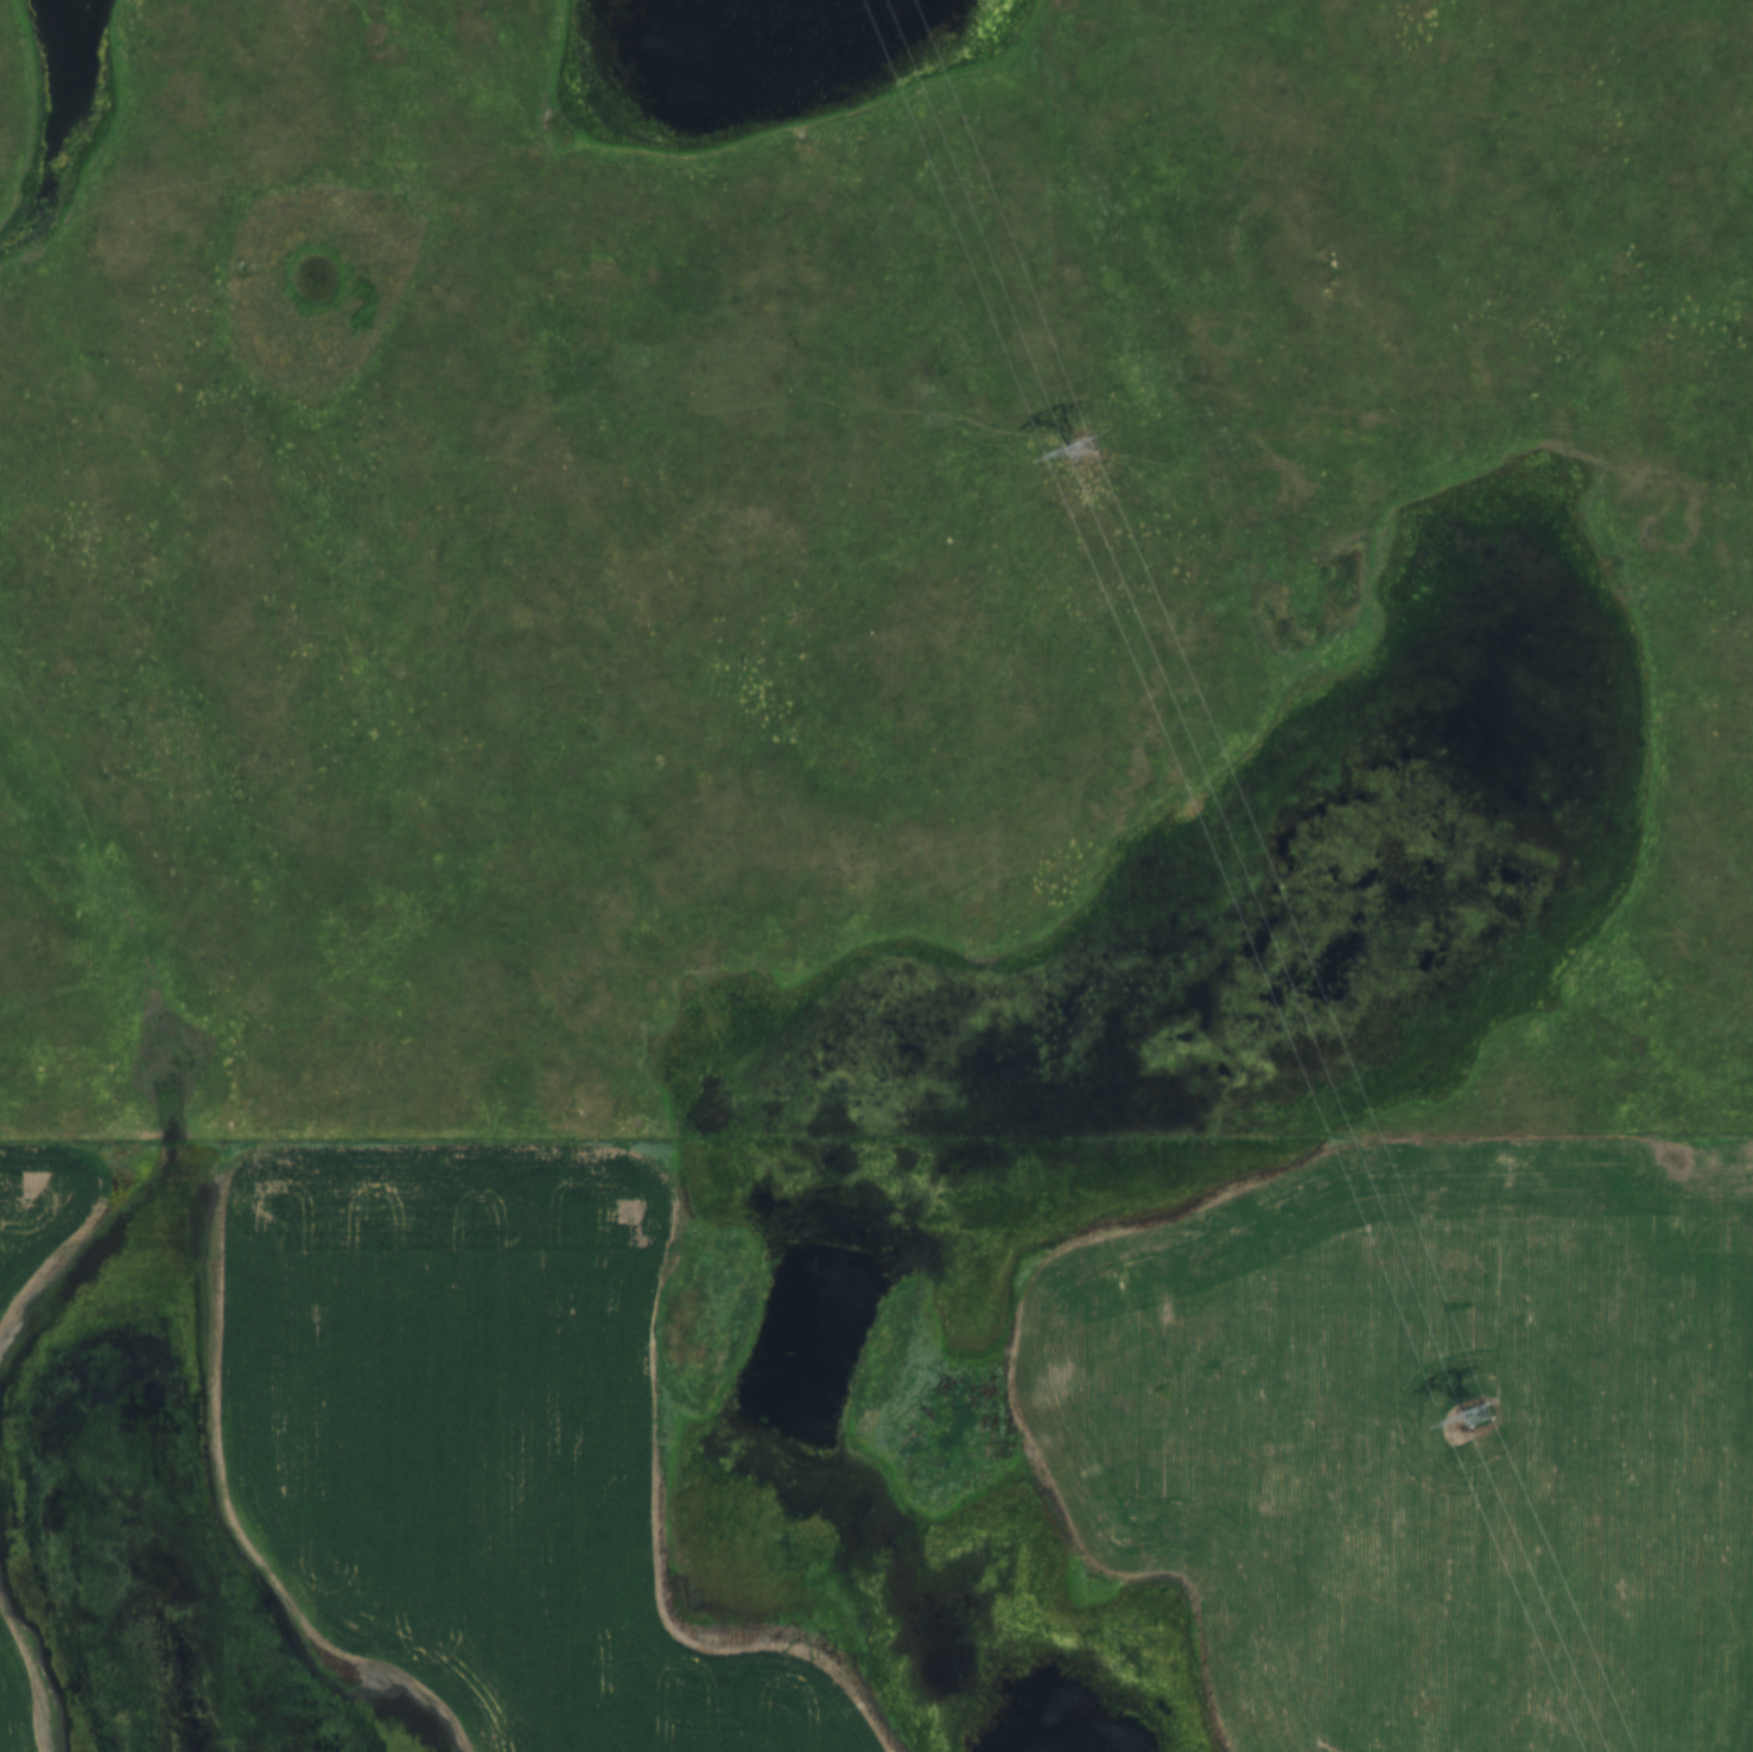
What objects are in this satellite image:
power tower: (1085, 449)
power tower: (1476, 1411)

